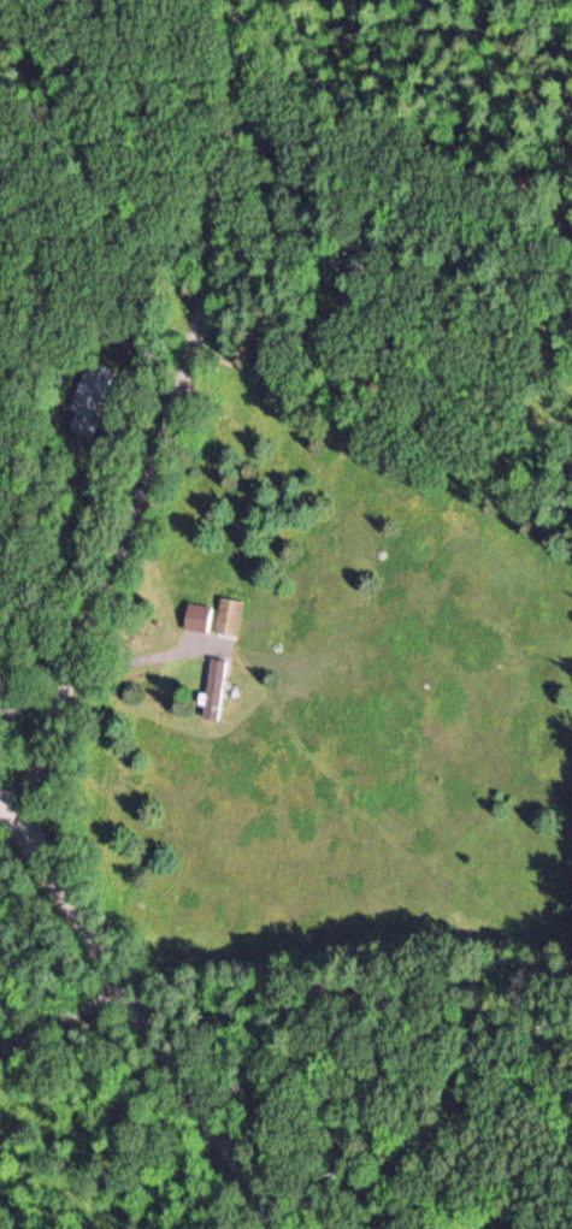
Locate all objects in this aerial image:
building: (89, 396)
building: (197, 616)
building: (229, 616)
road: (88, 642)
building: (214, 687)
road: (13, 806)
road: (173, 1183)

